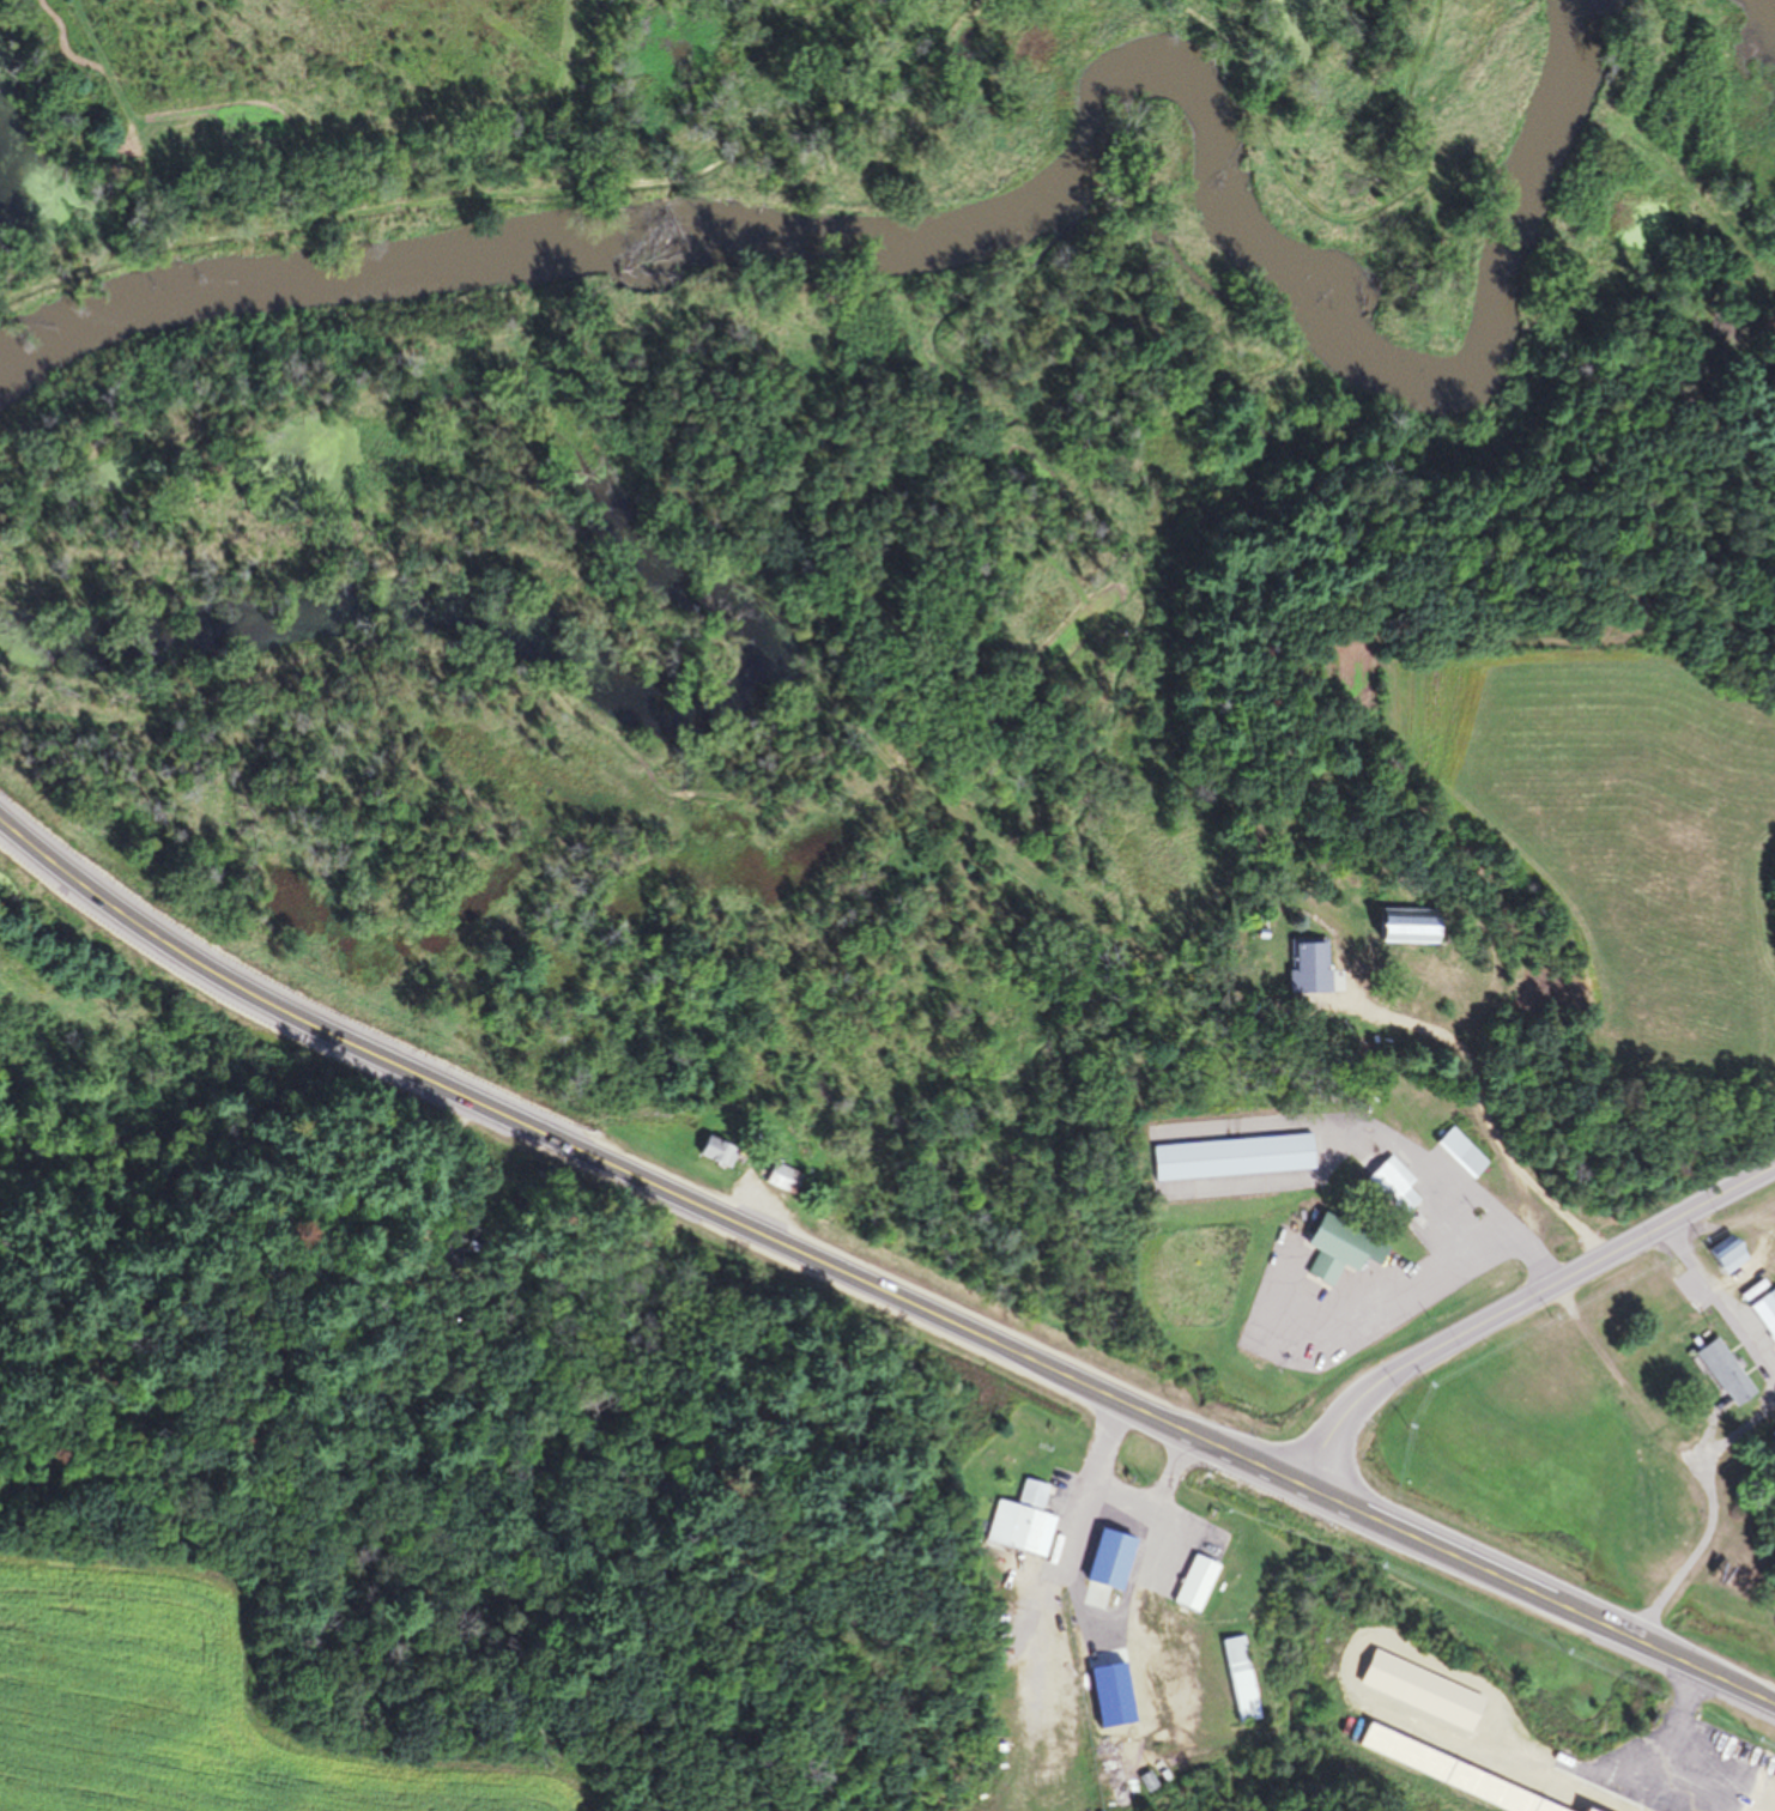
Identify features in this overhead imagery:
river: (1735, 23)
river: (1038, 196)
building: (1404, 927)
building: (1356, 975)
building: (1461, 1151)
building: (715, 1152)
building: (1231, 1157)
building: (782, 1174)
building: (1393, 1183)
building: (1338, 1248)
building: (1726, 1256)
road: (1430, 1265)
road: (873, 1285)
road: (1721, 1301)
road: (1521, 1304)
building: (1767, 1313)
building: (1723, 1371)
road: (1120, 1495)
road: (1712, 1518)
building: (1022, 1521)
building: (1107, 1558)
building: (1193, 1582)
building: (1240, 1678)
road: (1680, 1718)
building: (1718, 1757)

